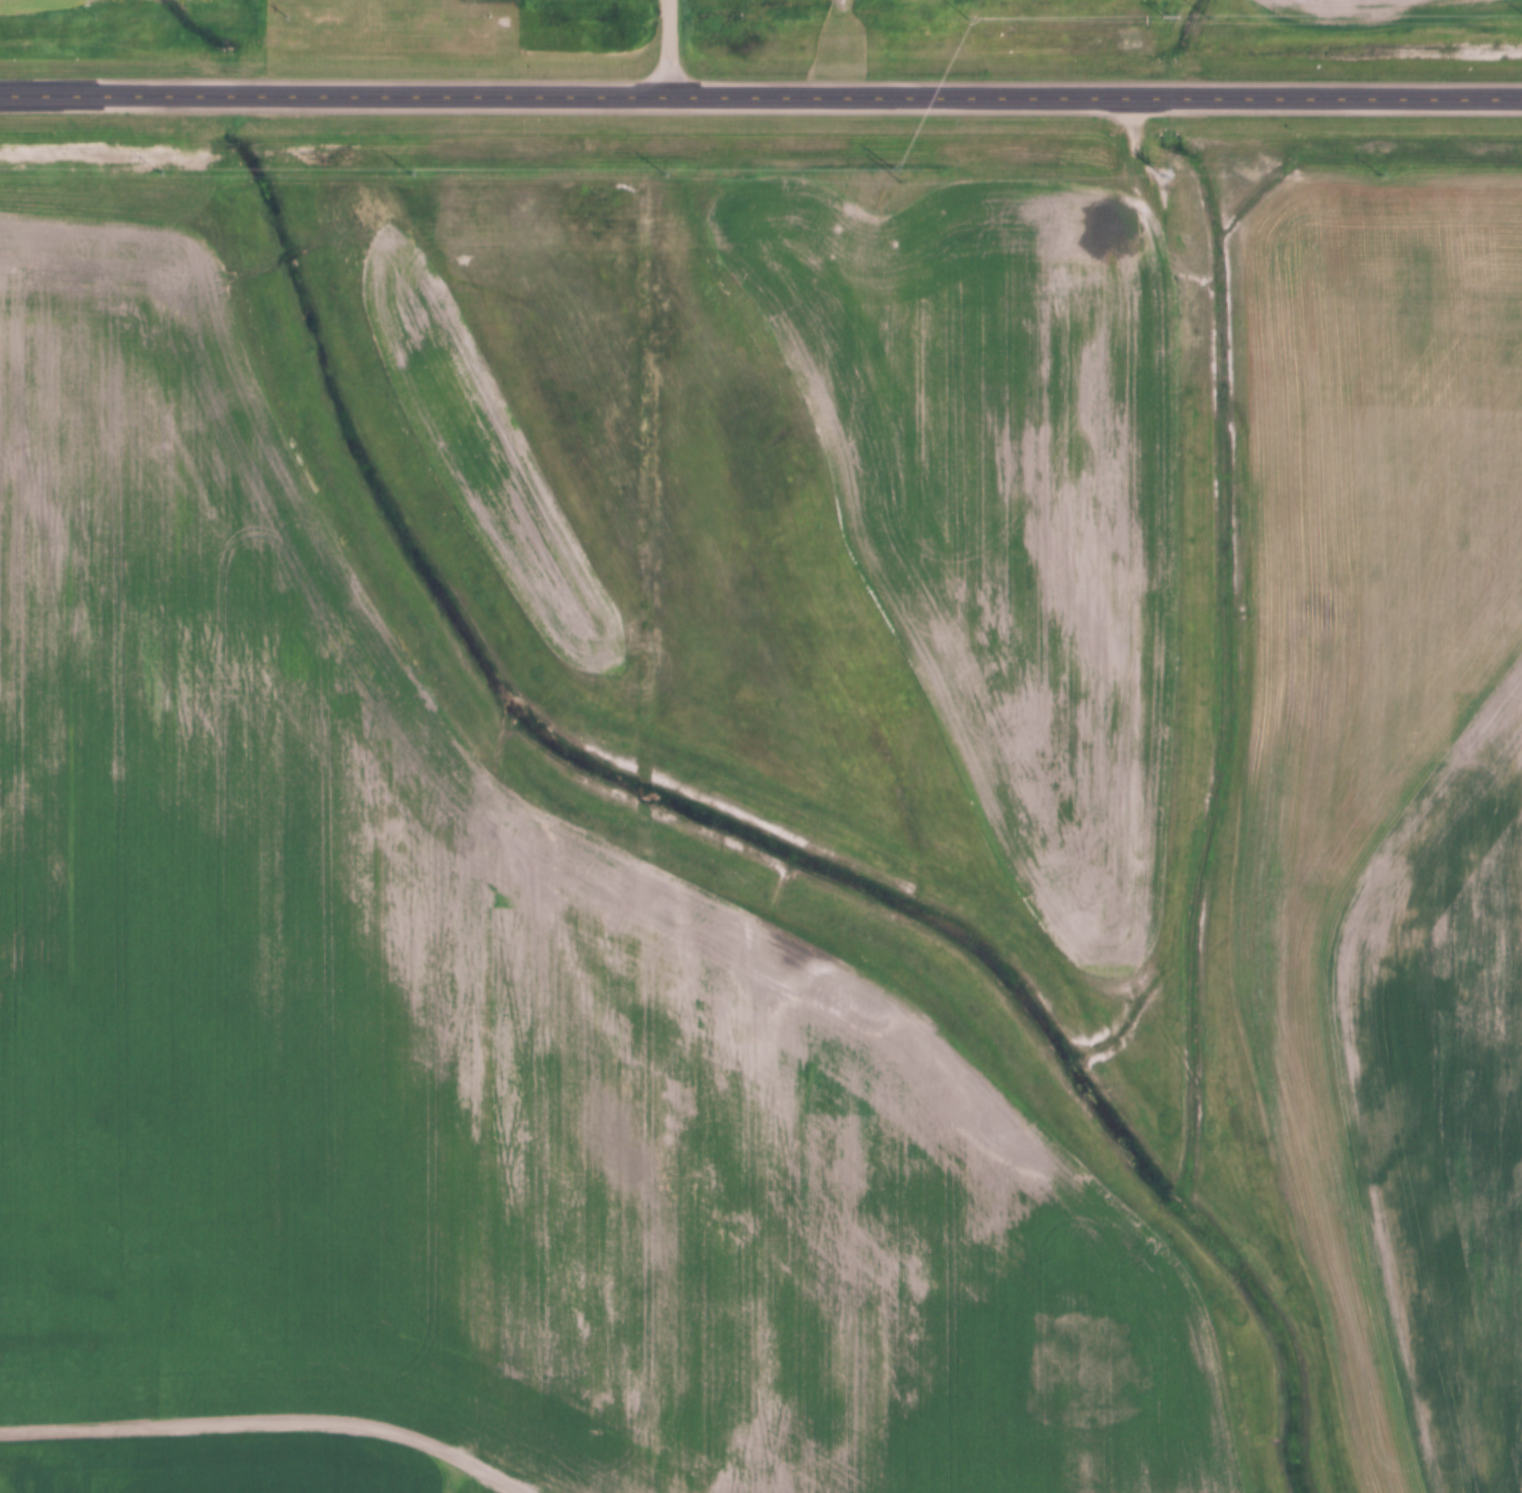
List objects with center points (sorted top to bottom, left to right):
road: (674, 50)
road: (760, 100)
road: (264, 1430)
road: (332, 1461)

